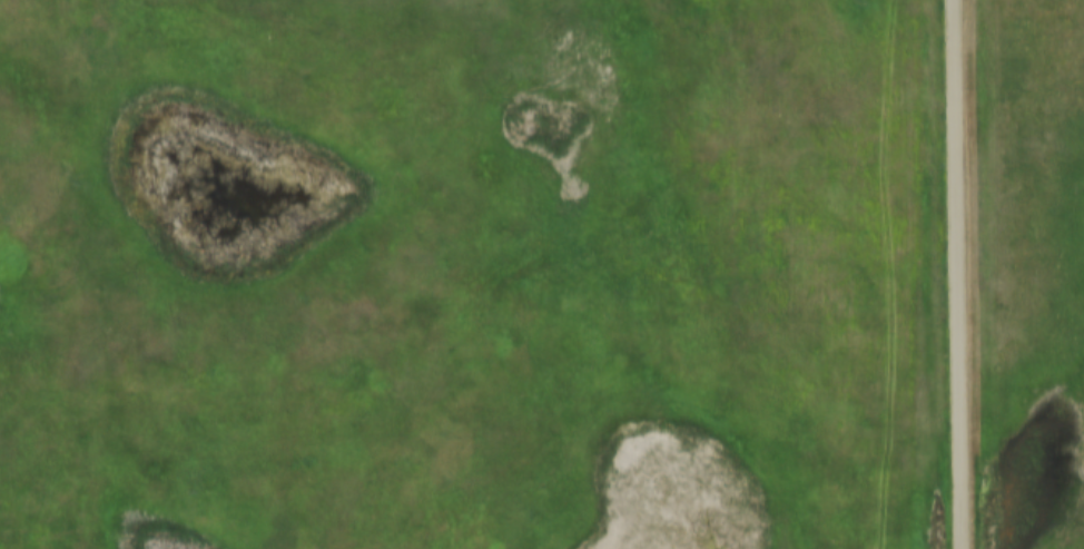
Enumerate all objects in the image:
road: (962, 274)

